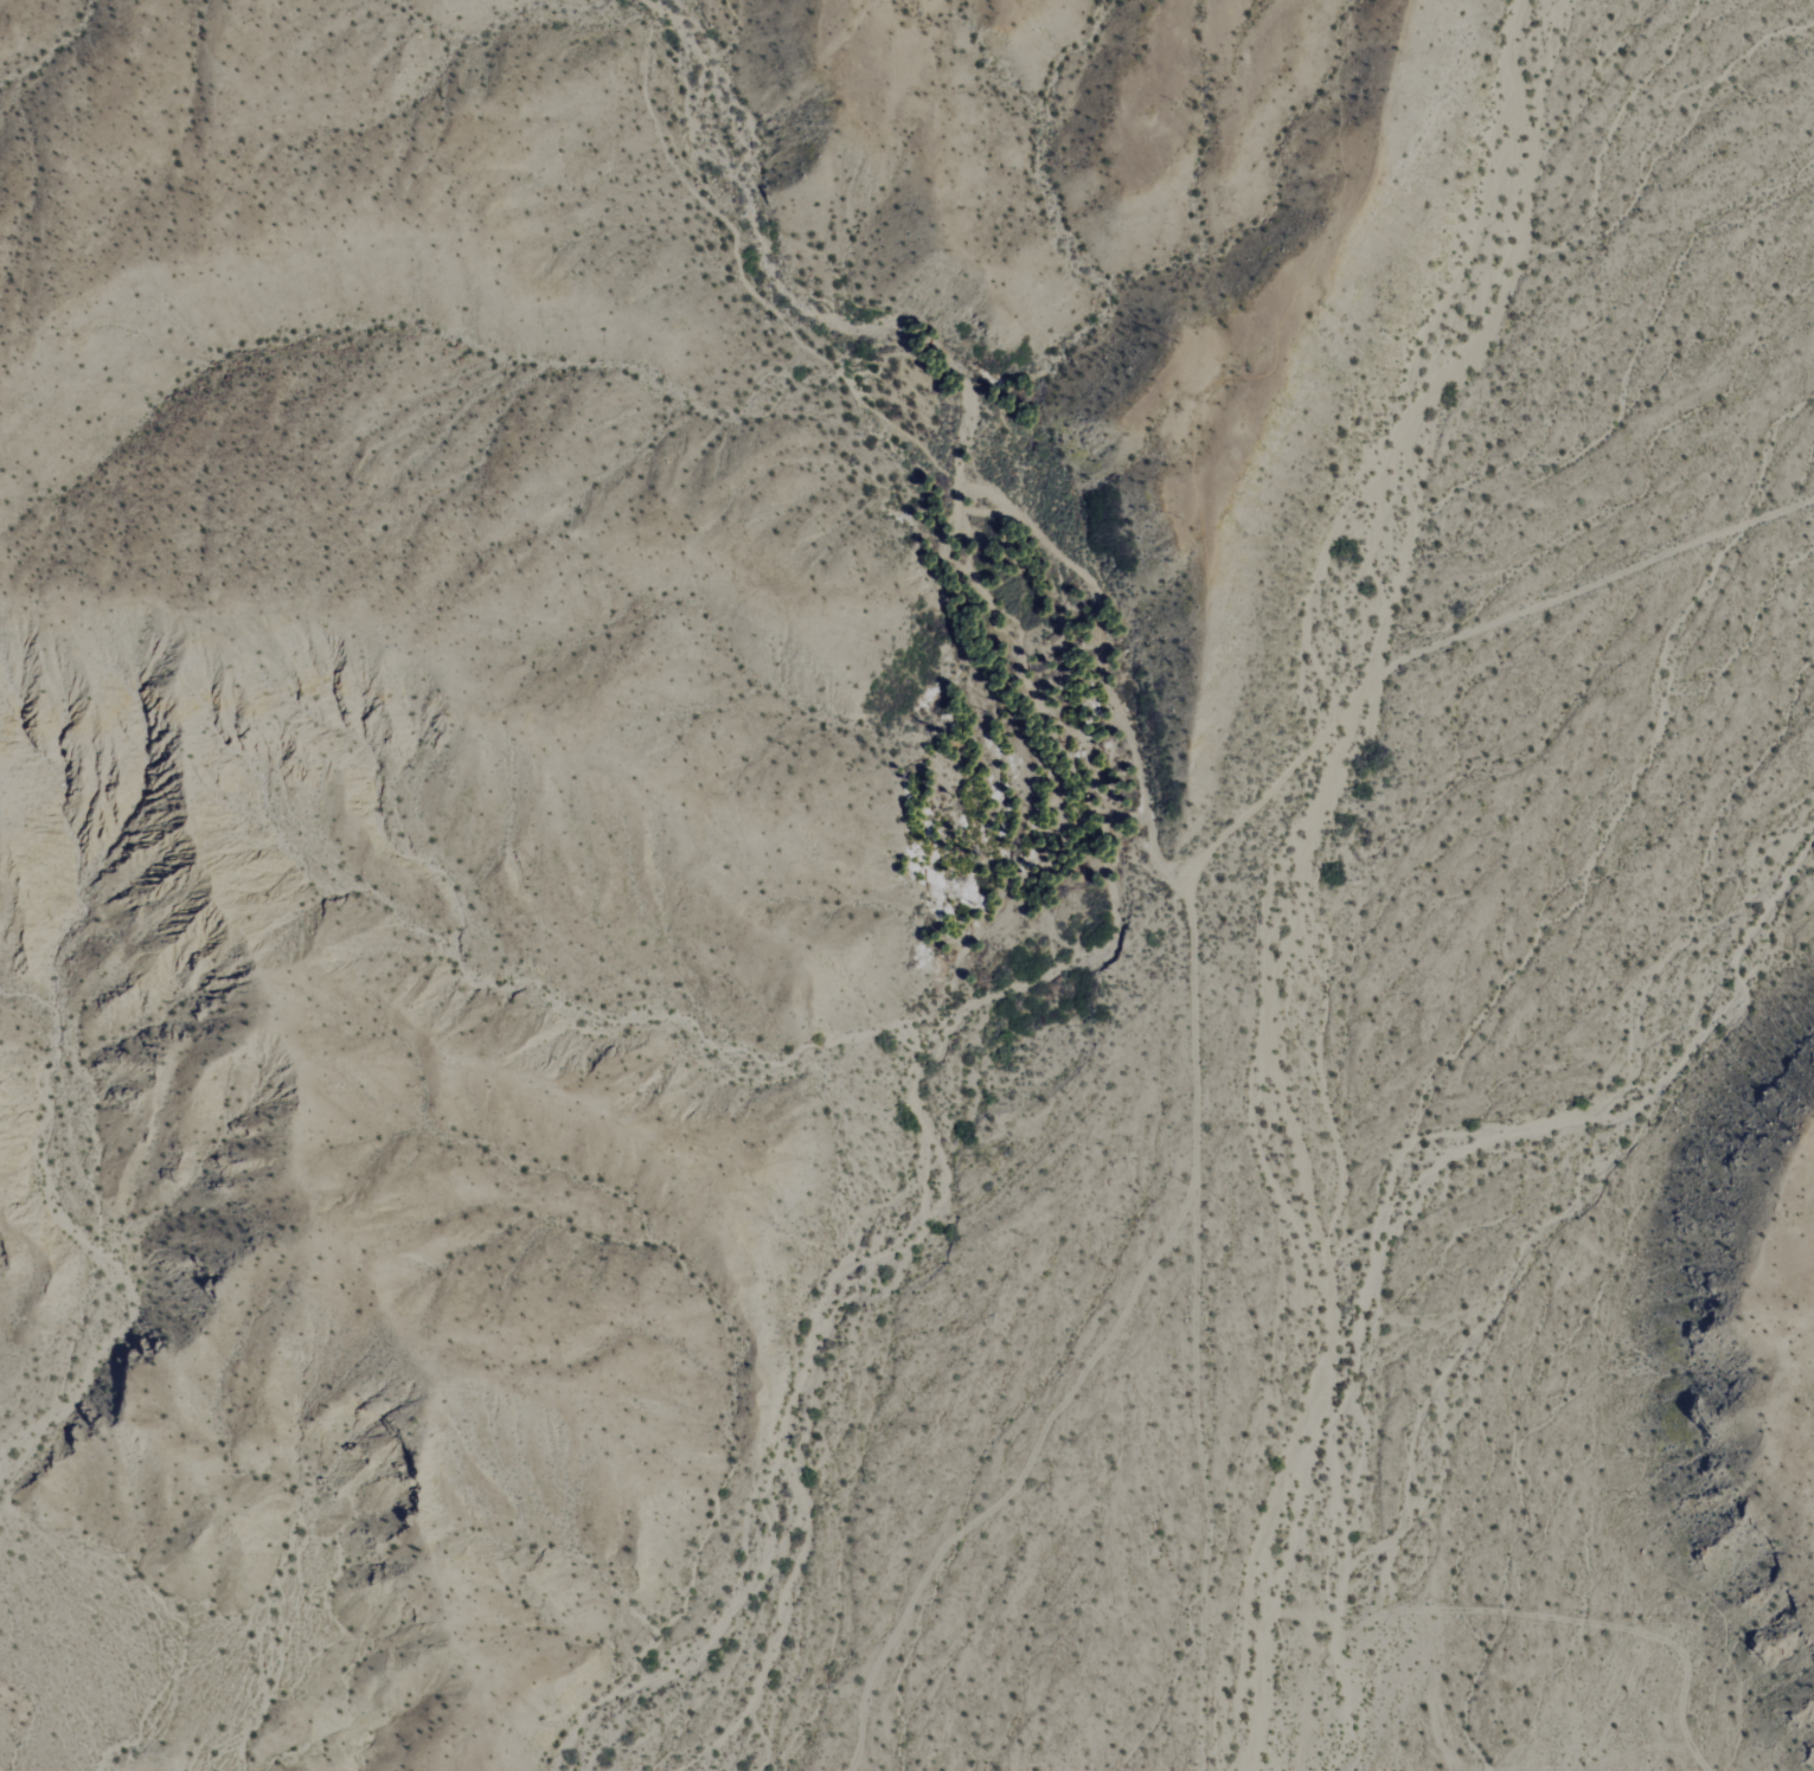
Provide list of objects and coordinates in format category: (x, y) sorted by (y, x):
road: (212, 1719)

